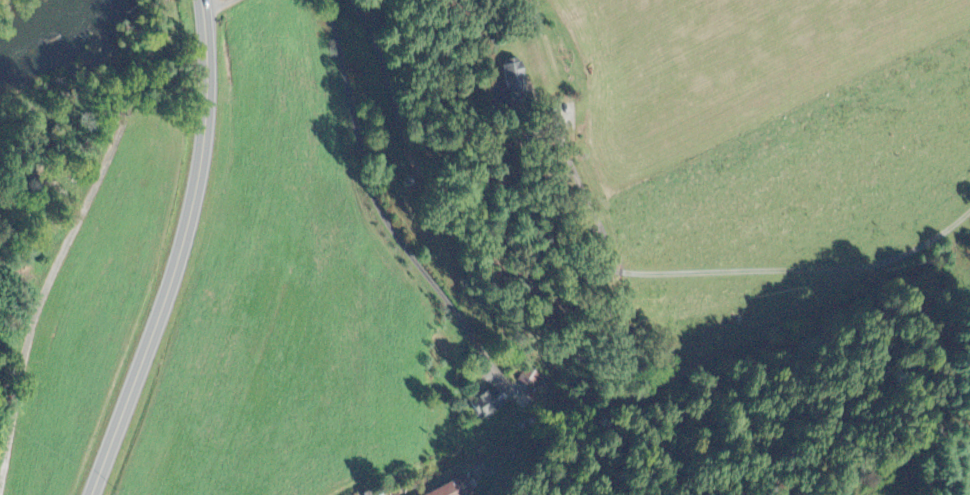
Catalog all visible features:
road: (217, 5)
river: (25, 25)
building: (516, 86)
road: (587, 195)
road: (382, 209)
road: (179, 253)
road: (595, 267)
building: (531, 375)
building: (489, 399)
building: (455, 488)

